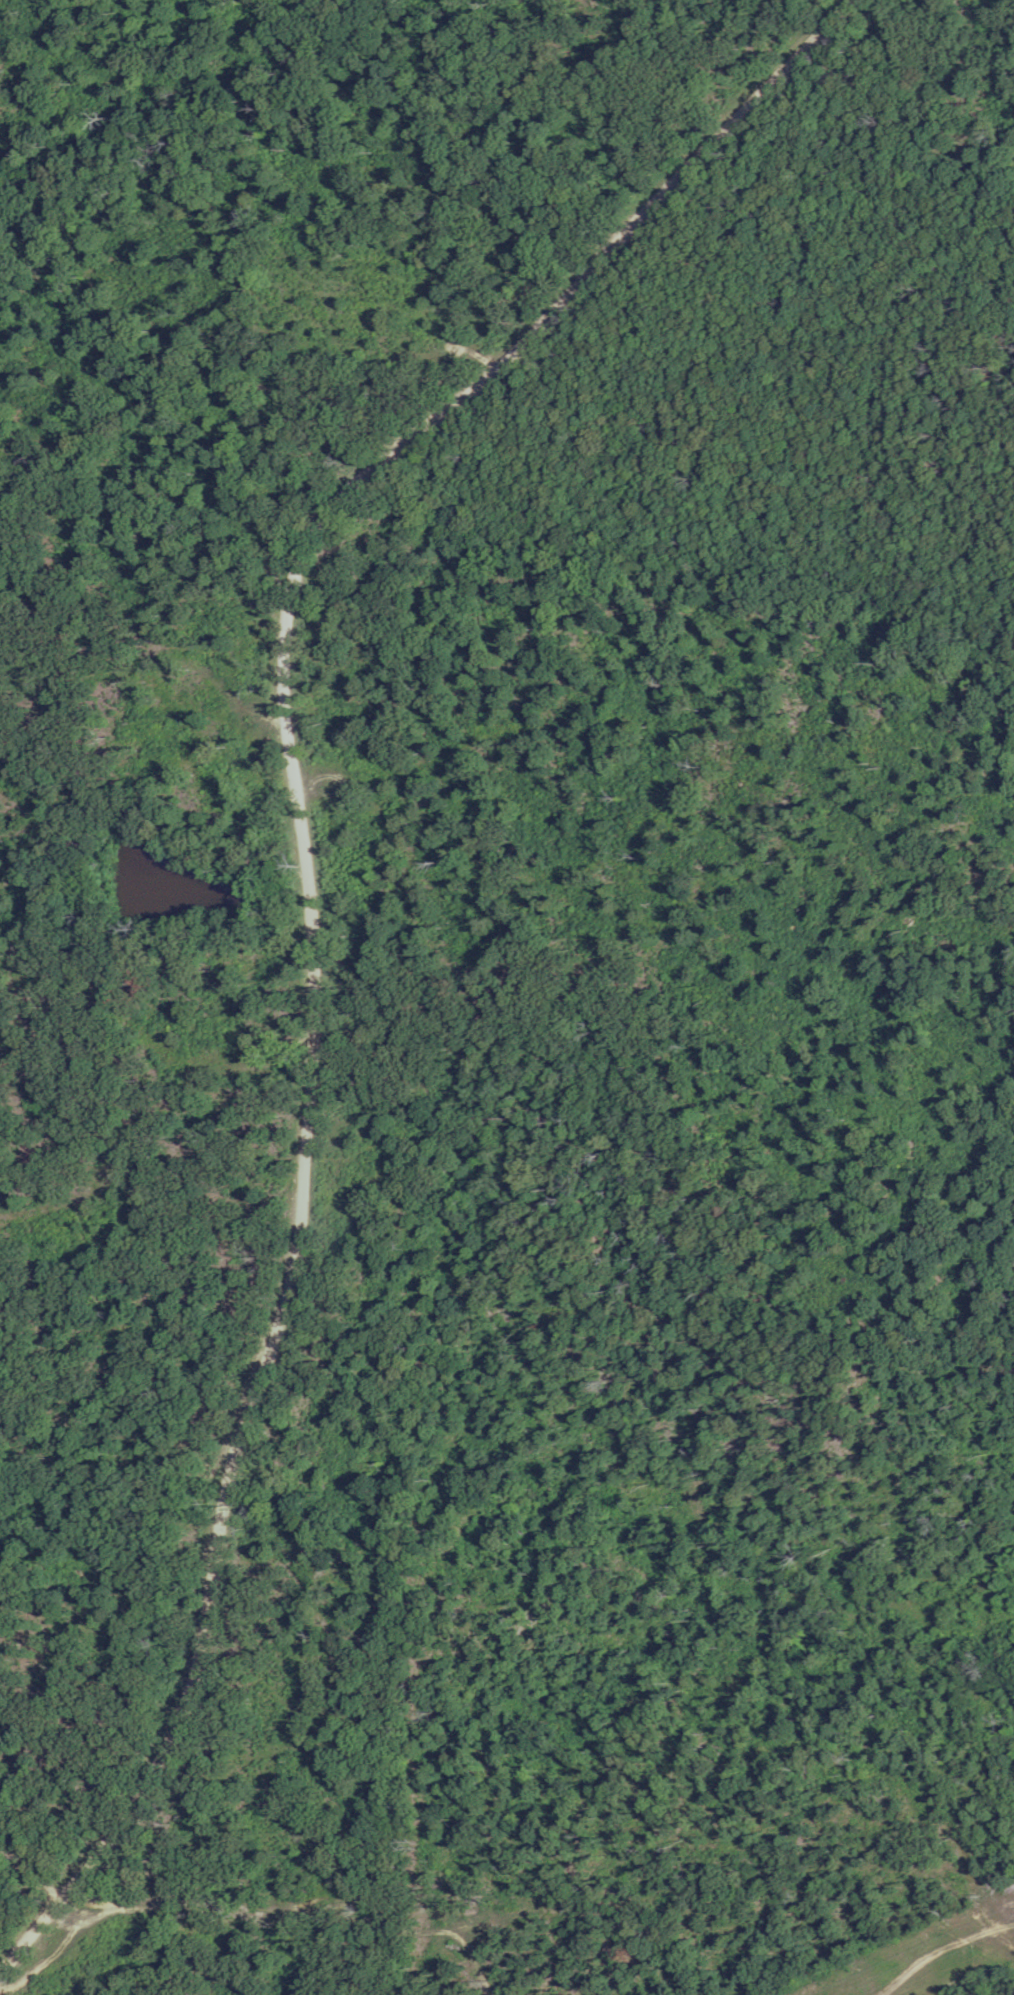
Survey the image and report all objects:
road: (314, 910)
road: (187, 1908)
road: (948, 1952)

